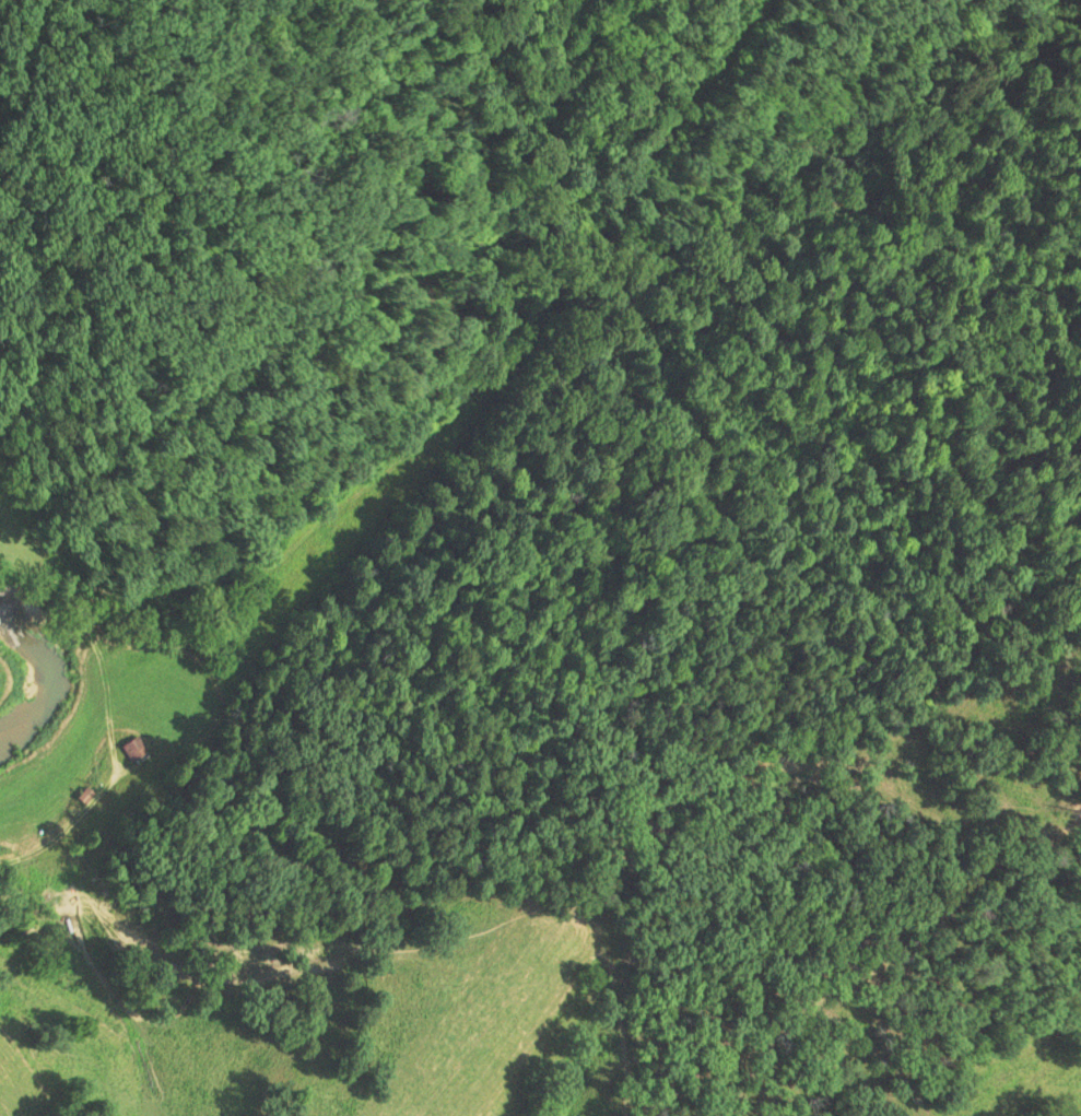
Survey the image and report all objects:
river: (49, 670)
building: (132, 748)

